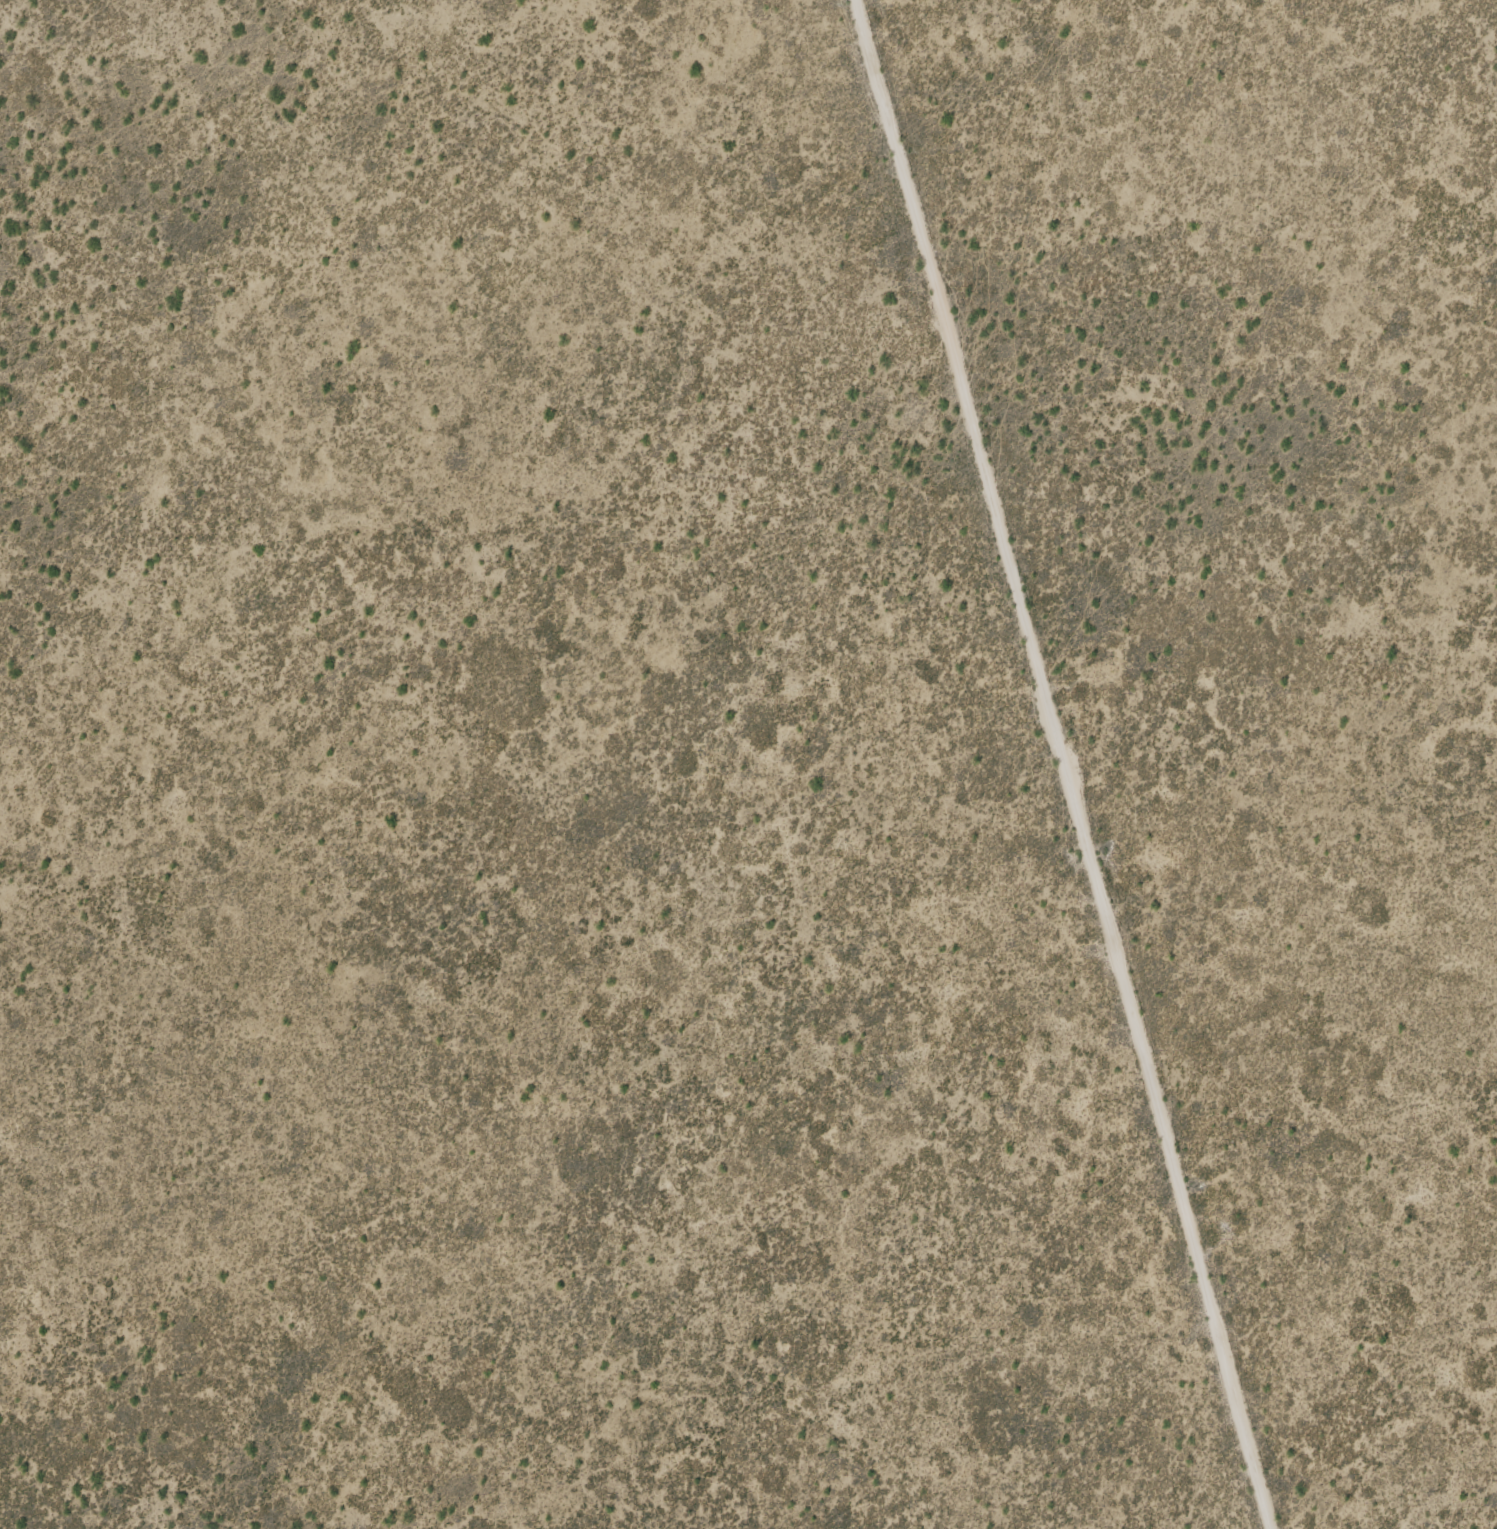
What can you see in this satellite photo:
road: (1081, 764)

